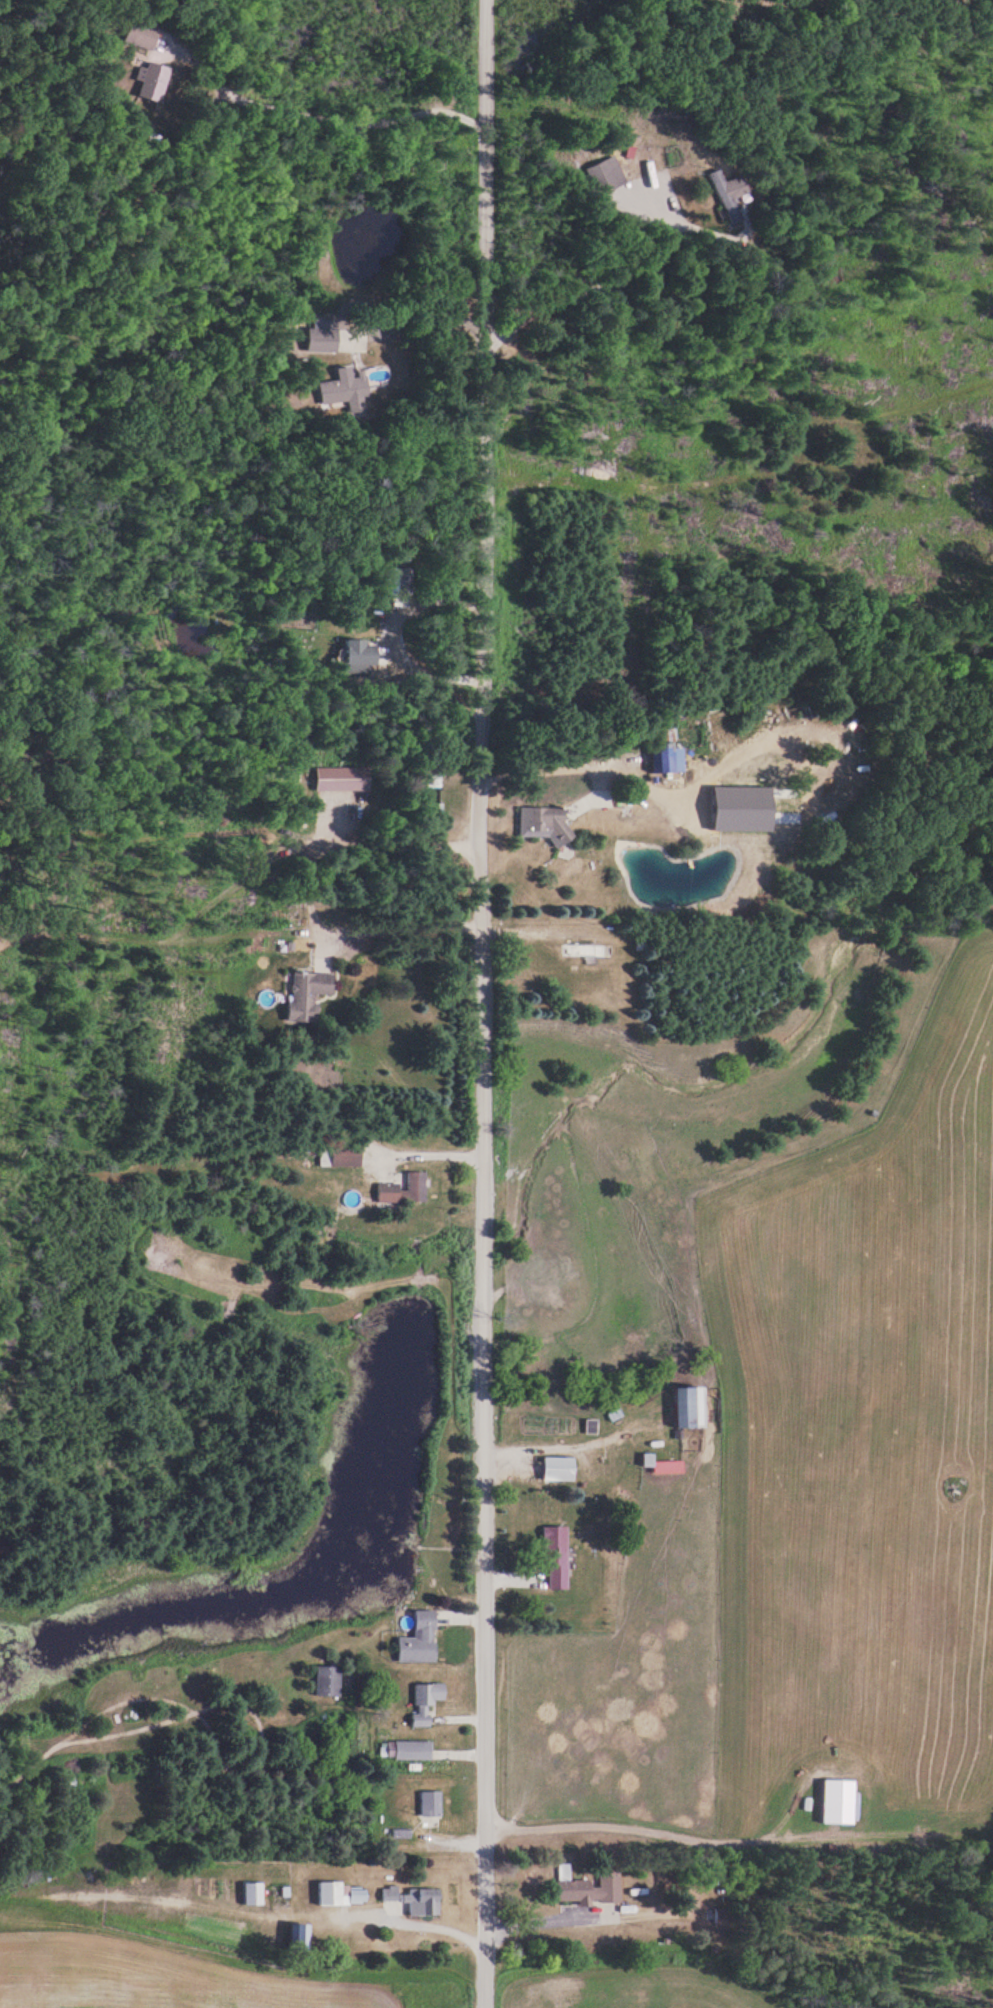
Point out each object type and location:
building: (145, 33)
building: (155, 80)
road: (334, 108)
building: (607, 176)
building: (734, 195)
road: (567, 299)
building: (325, 334)
building: (350, 389)
building: (363, 653)
building: (664, 757)
building: (345, 778)
building: (431, 778)
building: (547, 823)
building: (644, 942)
building: (589, 950)
building: (311, 994)
road: (479, 1004)
building: (349, 1156)
building: (406, 1189)
building: (693, 1407)
building: (561, 1468)
building: (558, 1558)
building: (421, 1640)
building: (330, 1681)
building: (431, 1693)
building: (407, 1749)
building: (432, 1802)
building: (589, 1887)
building: (255, 1892)
building: (343, 1893)
building: (413, 1900)
building: (724, 1915)
building: (303, 1935)

